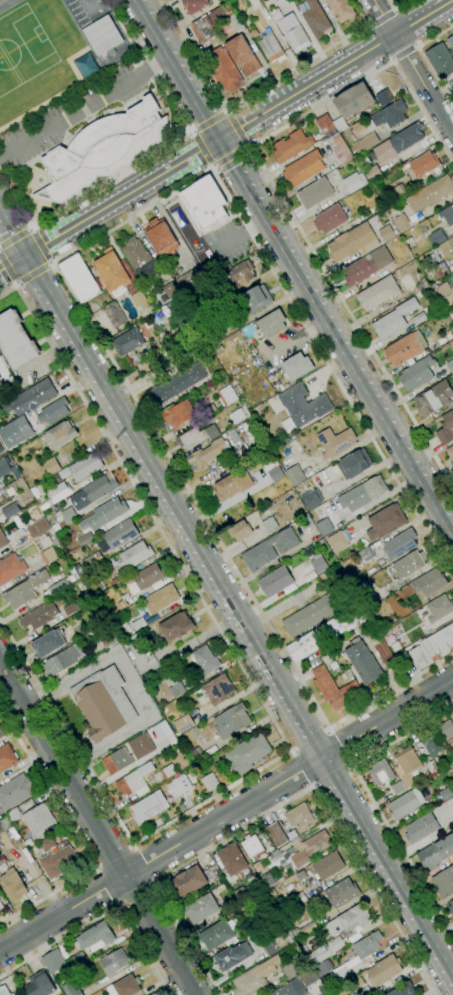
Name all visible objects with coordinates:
park: (1, 0)
building: (254, 3)
building: (195, 5)
road: (399, 8)
building: (341, 9)
road: (394, 10)
road: (100, 13)
building: (226, 16)
road: (382, 17)
building: (315, 18)
road: (370, 24)
road: (160, 26)
building: (202, 29)
building: (290, 30)
building: (102, 35)
building: (450, 42)
road: (377, 44)
road: (415, 45)
park: (21, 47)
building: (272, 48)
road: (403, 51)
road: (194, 54)
building: (243, 55)
road: (309, 58)
road: (424, 58)
road: (392, 59)
building: (440, 60)
park: (25, 61)
road: (176, 63)
road: (148, 65)
road: (413, 65)
building: (87, 67)
road: (173, 70)
building: (224, 70)
road: (198, 78)
building: (451, 85)
building: (384, 98)
building: (354, 101)
road: (79, 103)
road: (320, 104)
road: (83, 107)
road: (226, 110)
road: (422, 112)
building: (390, 114)
road: (258, 115)
road: (89, 120)
road: (208, 122)
building: (339, 124)
building: (326, 126)
building: (359, 127)
road: (79, 129)
road: (234, 129)
road: (189, 131)
road: (229, 131)
traffic signals: (230, 132)
traffic signals: (214, 141)
building: (366, 143)
building: (397, 143)
road: (246, 146)
building: (291, 146)
road: (201, 148)
building: (339, 148)
building: (103, 149)
road: (227, 154)
road: (225, 158)
building: (421, 165)
road: (211, 166)
building: (303, 169)
road: (118, 171)
building: (372, 173)
road: (255, 176)
building: (354, 182)
building: (397, 192)
building: (315, 193)
road: (83, 194)
building: (430, 194)
building: (385, 197)
road: (119, 198)
road: (256, 199)
building: (204, 203)
building: (447, 215)
building: (330, 219)
building: (425, 222)
building: (401, 223)
road: (109, 229)
building: (386, 233)
road: (12, 234)
road: (15, 236)
building: (162, 237)
building: (436, 238)
parking lot: (231, 239)
building: (452, 239)
building: (352, 242)
building: (410, 243)
road: (41, 245)
traffic signals: (25, 255)
building: (138, 257)
road: (12, 262)
traffic signals: (10, 264)
road: (10, 265)
building: (367, 266)
building: (441, 270)
road: (7, 273)
road: (33, 275)
building: (238, 275)
building: (79, 277)
building: (120, 278)
building: (188, 280)
building: (422, 285)
building: (170, 291)
building: (378, 293)
building: (446, 293)
building: (253, 301)
building: (430, 313)
building: (114, 315)
building: (419, 318)
road: (350, 319)
building: (394, 319)
road: (45, 321)
building: (272, 324)
building: (207, 334)
building: (444, 339)
building: (16, 340)
building: (128, 342)
road: (72, 343)
building: (405, 348)
building: (201, 349)
road: (344, 360)
road: (359, 360)
building: (450, 365)
building: (297, 366)
road: (332, 373)
building: (417, 373)
building: (452, 377)
building: (177, 384)
building: (7, 388)
building: (227, 396)
building: (31, 398)
building: (434, 398)
building: (302, 407)
building: (54, 411)
building: (179, 414)
building: (238, 415)
building: (446, 428)
building: (16, 432)
building: (59, 434)
building: (196, 436)
building: (336, 442)
building: (1, 449)
building: (450, 452)
building: (207, 454)
building: (354, 464)
building: (51, 466)
building: (82, 467)
building: (8, 468)
building: (272, 468)
building: (295, 475)
road: (159, 480)
building: (233, 484)
building: (96, 489)
building: (34, 492)
building: (59, 492)
building: (362, 494)
building: (311, 499)
building: (44, 506)
building: (10, 510)
road: (147, 510)
building: (104, 514)
building: (69, 515)
building: (304, 522)
building: (385, 522)
building: (269, 524)
road: (174, 527)
building: (325, 527)
building: (38, 528)
building: (240, 530)
building: (120, 534)
building: (85, 539)
building: (3, 540)
building: (339, 540)
building: (399, 544)
building: (269, 549)
building: (366, 554)
building: (135, 555)
building: (48, 556)
building: (92, 561)
building: (409, 564)
building: (316, 567)
building: (11, 568)
building: (145, 578)
road: (240, 579)
building: (275, 581)
building: (429, 582)
building: (57, 586)
building: (24, 590)
building: (365, 594)
building: (123, 596)
building: (161, 598)
building: (411, 606)
building: (439, 608)
building: (70, 609)
building: (311, 614)
building: (39, 616)
building: (137, 623)
building: (176, 627)
building: (386, 632)
building: (104, 637)
building: (318, 638)
building: (134, 639)
building: (48, 644)
building: (433, 647)
building: (64, 659)
building: (205, 660)
building: (362, 661)
building: (175, 687)
building: (218, 689)
building: (333, 689)
building: (103, 703)
road: (284, 703)
building: (231, 721)
building: (183, 724)
road: (283, 725)
building: (163, 727)
building: (446, 728)
road: (327, 731)
road: (307, 732)
building: (2, 734)
road: (311, 742)
building: (431, 743)
road: (335, 749)
road: (292, 750)
building: (247, 752)
building: (119, 755)
building: (195, 755)
building: (6, 758)
road: (304, 766)
road: (308, 766)
road: (348, 766)
building: (406, 766)
building: (433, 766)
road: (125, 769)
building: (167, 771)
road: (328, 773)
building: (381, 773)
building: (135, 781)
building: (210, 782)
road: (313, 784)
building: (177, 787)
building: (398, 788)
building: (14, 792)
building: (445, 793)
road: (372, 801)
building: (406, 803)
road: (280, 804)
building: (149, 806)
building: (180, 807)
road: (332, 808)
road: (113, 811)
building: (452, 814)
road: (351, 815)
road: (226, 816)
building: (298, 816)
building: (9, 819)
building: (38, 820)
building: (420, 828)
road: (97, 829)
building: (276, 834)
road: (75, 835)
building: (292, 835)
building: (48, 844)
building: (252, 847)
road: (131, 848)
building: (303, 849)
building: (436, 853)
building: (274, 856)
road: (113, 859)
building: (231, 859)
building: (56, 862)
road: (139, 866)
building: (328, 866)
road: (388, 866)
road: (96, 868)
building: (267, 881)
road: (150, 882)
building: (187, 882)
building: (444, 882)
road: (107, 884)
building: (13, 885)
road: (133, 891)
building: (342, 892)
building: (273, 893)
building: (299, 899)
road: (117, 902)
building: (232, 905)
building: (1, 906)
building: (451, 906)
building: (201, 908)
road: (401, 910)
road: (103, 912)
building: (348, 921)
building: (243, 922)
building: (308, 929)
building: (217, 935)
building: (95, 937)
building: (269, 947)
building: (325, 950)
building: (358, 955)
building: (233, 956)
building: (79, 959)
building: (53, 961)
building: (114, 962)
building: (323, 967)
building: (385, 970)
building: (288, 971)
building: (255, 977)
building: (307, 978)
building: (39, 984)
building: (125, 986)
building: (290, 988)
building: (345, 988)
building: (70, 989)
building: (4, 990)
building: (404, 990)
building: (363, 991)
building: (12, 994)
building: (153, 994)
building: (351, 994)

